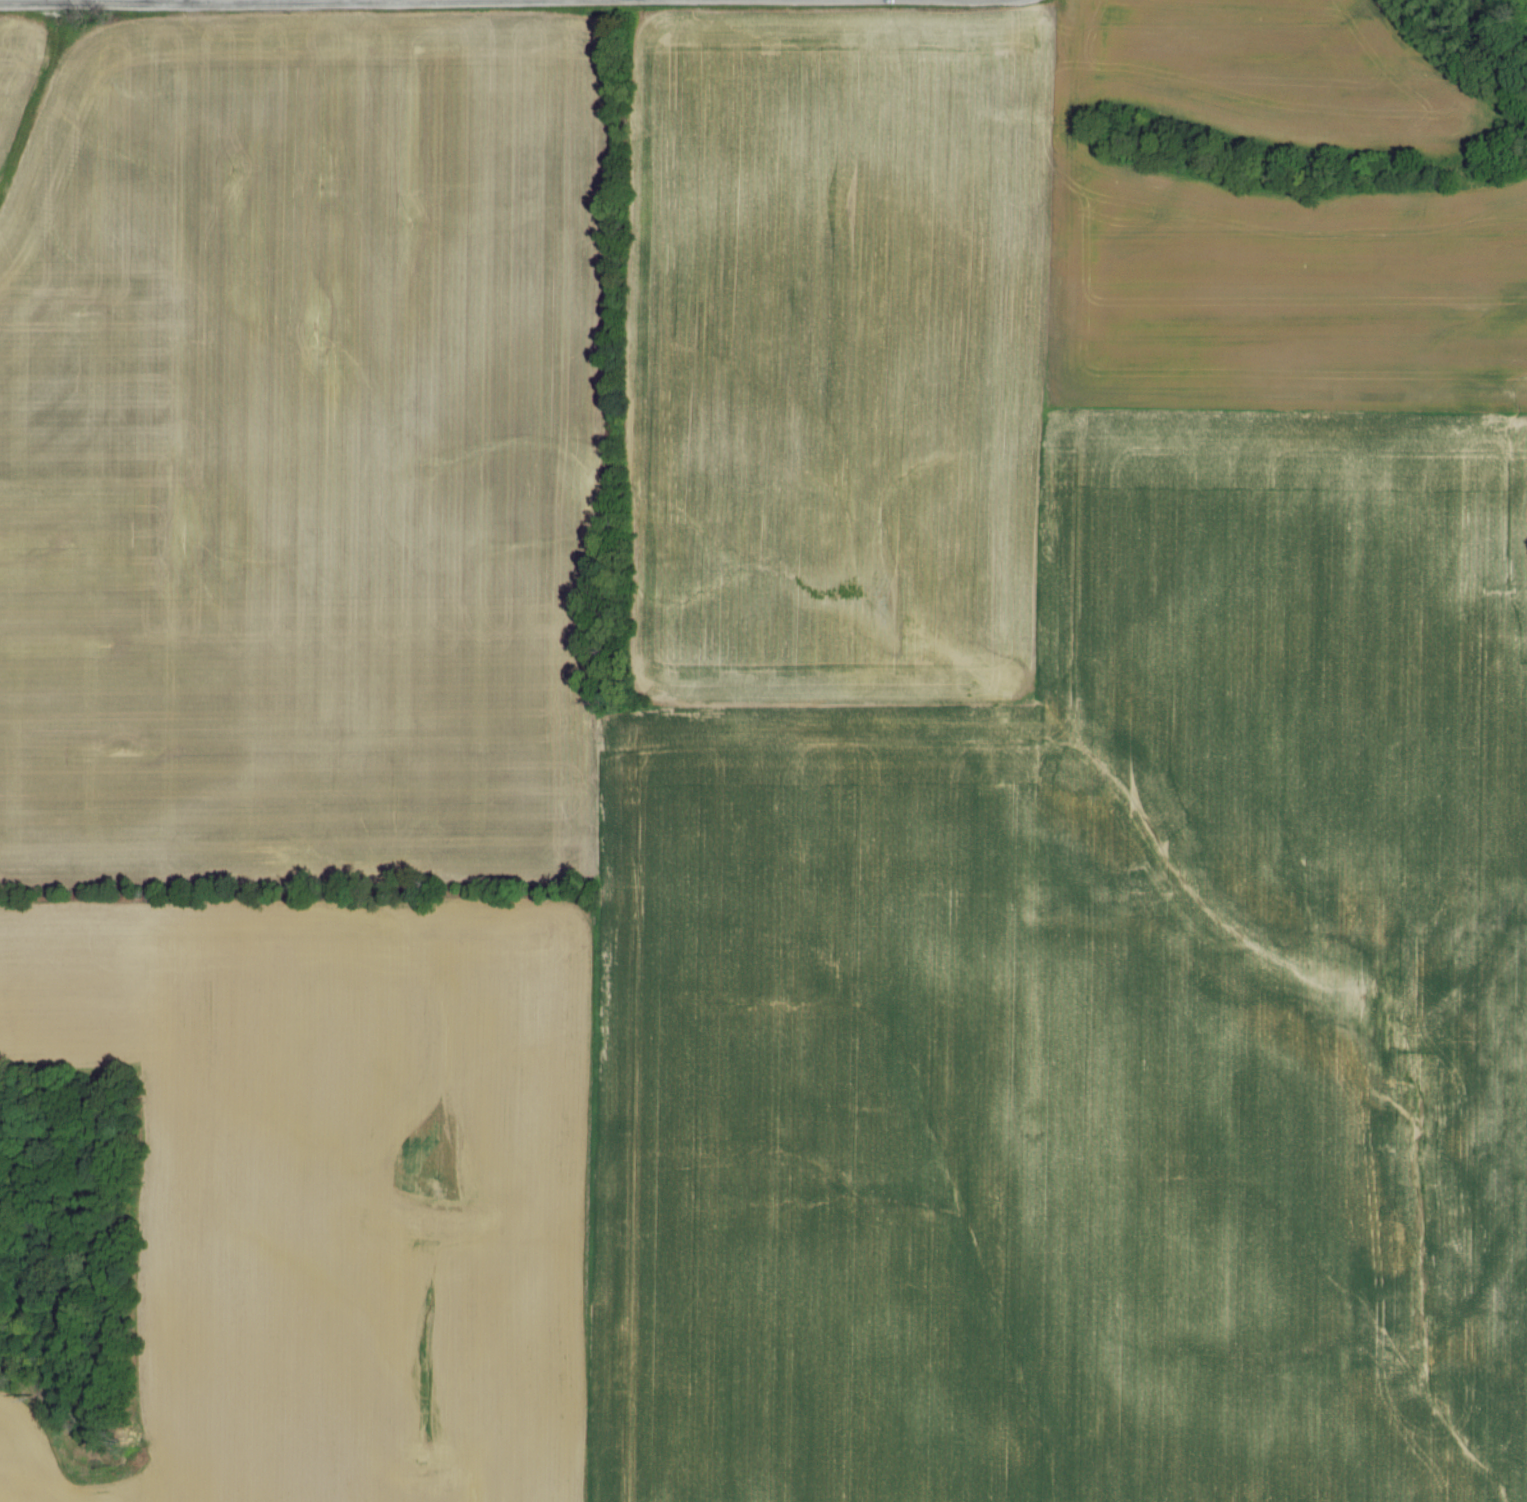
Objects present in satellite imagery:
road: (168, 0)
road: (110, 1)

